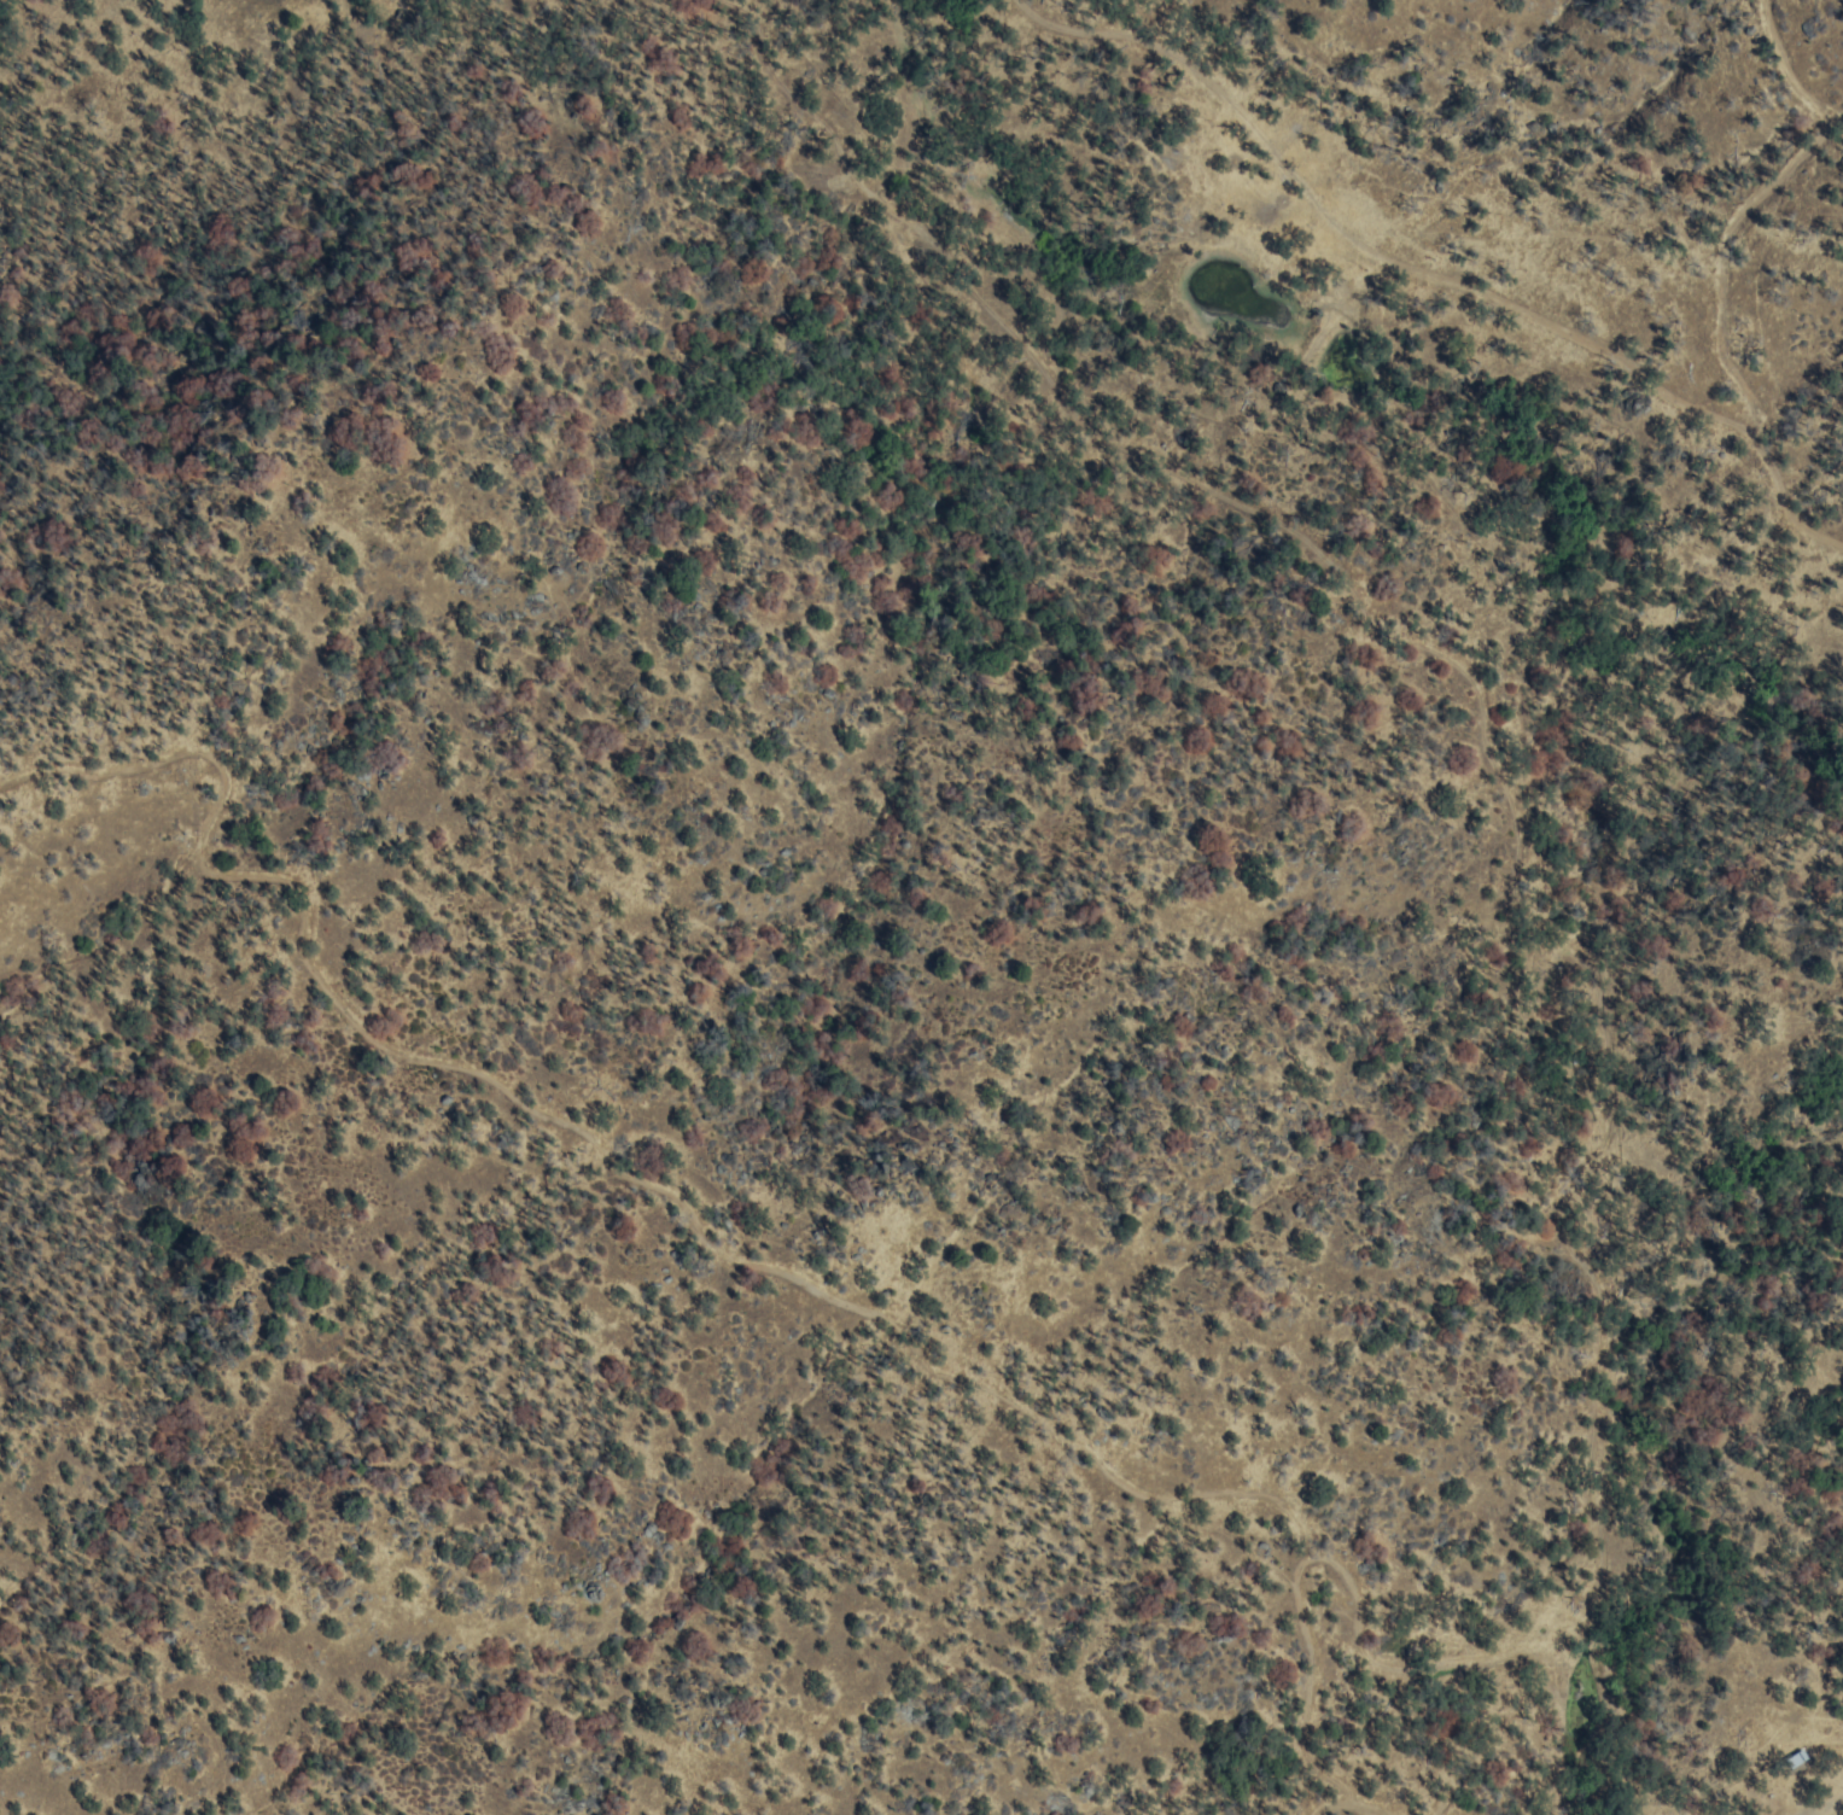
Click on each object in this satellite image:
building: (1794, 1761)

